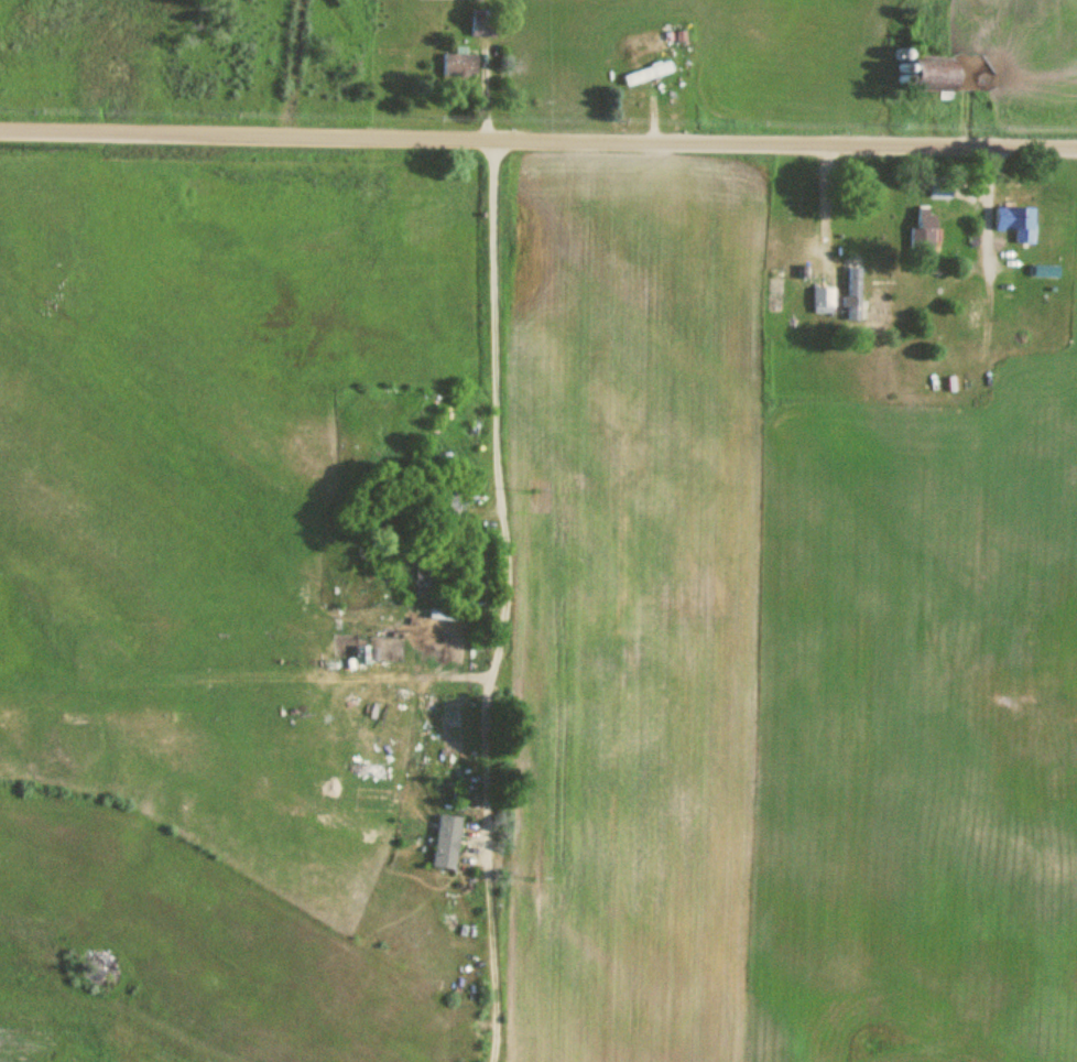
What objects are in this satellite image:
building: (487, 31)
building: (466, 66)
road: (867, 67)
building: (646, 74)
building: (929, 74)
road: (538, 145)
building: (940, 192)
building: (1014, 223)
building: (922, 236)
building: (823, 301)
road: (961, 369)
building: (443, 503)
road: (464, 598)
building: (444, 615)
road: (283, 697)
building: (446, 843)

